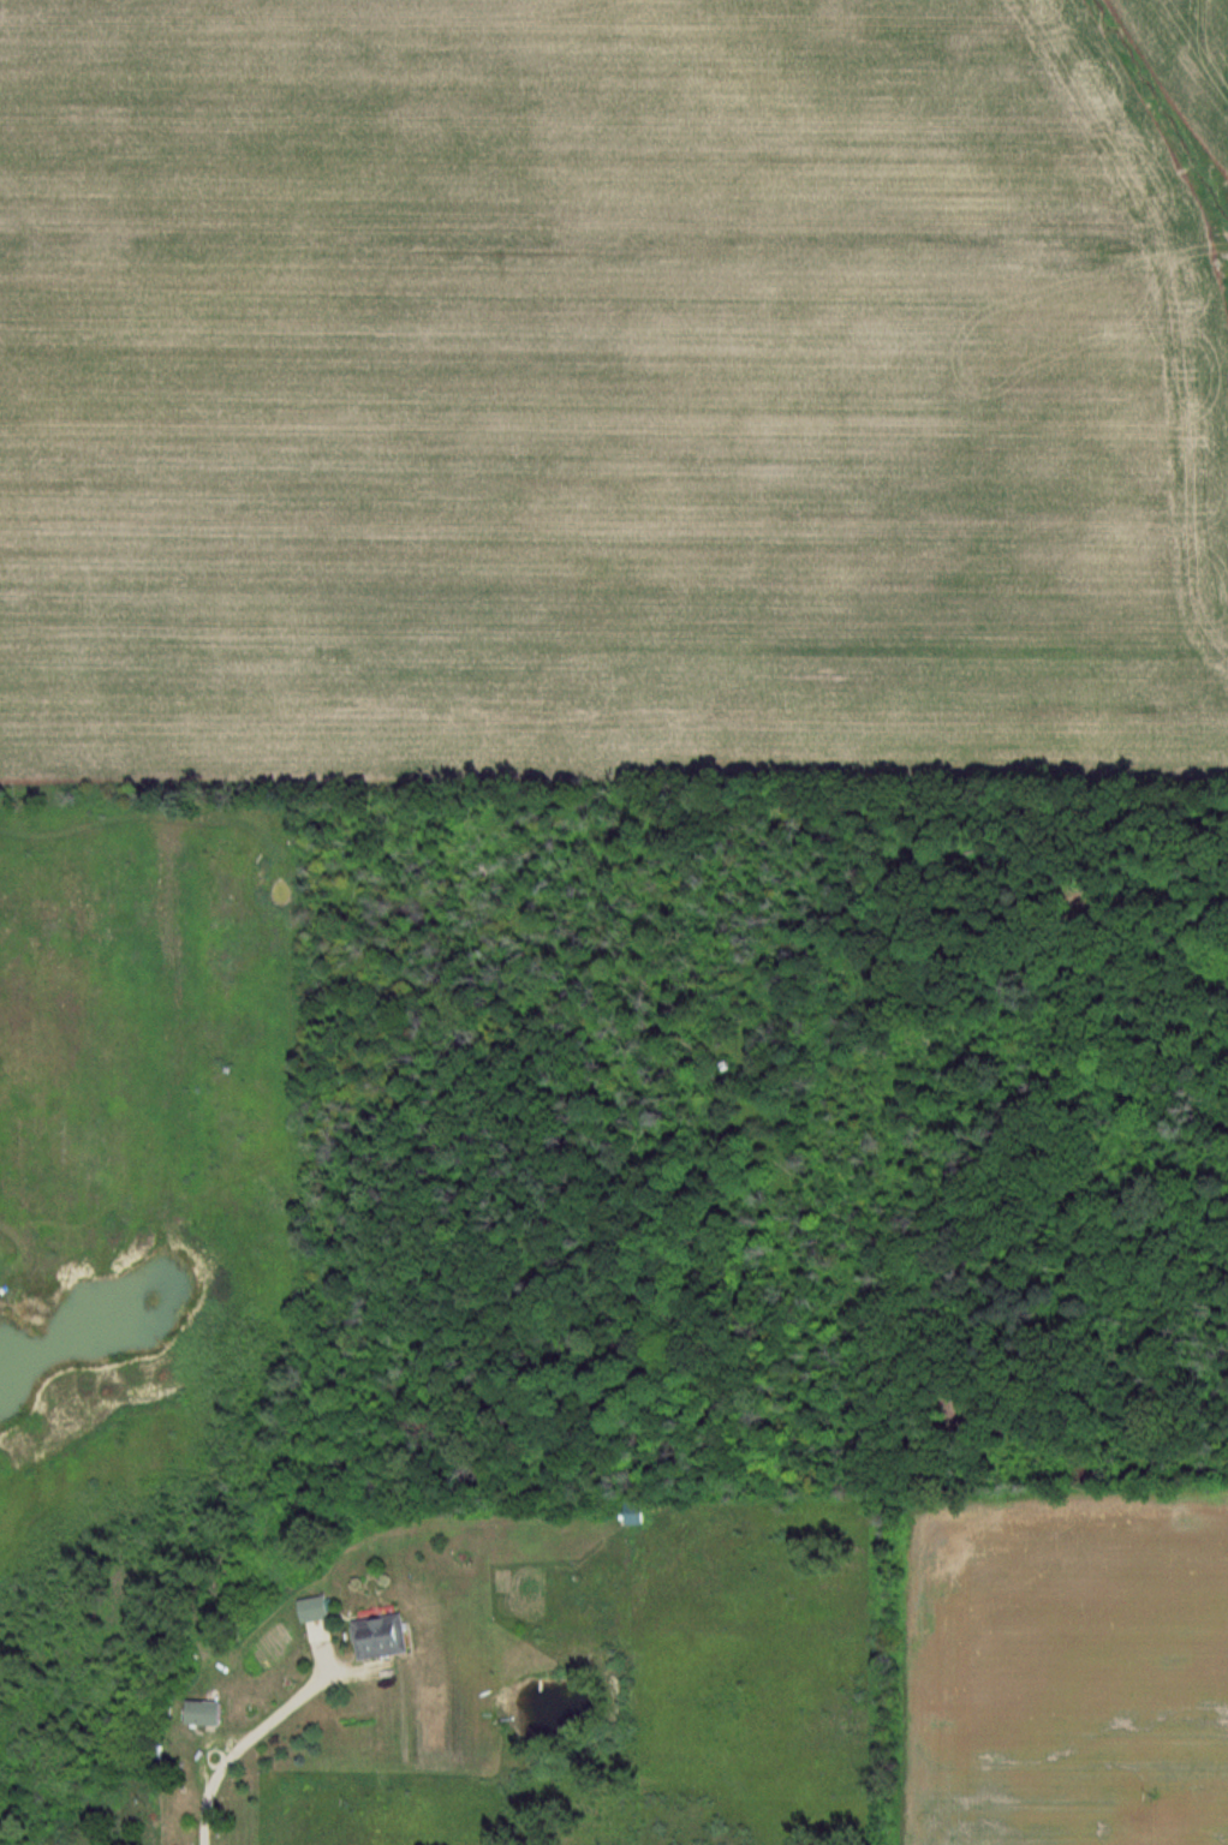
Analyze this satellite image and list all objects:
building: (637, 1512)
building: (315, 1608)
building: (385, 1636)
building: (207, 1713)
road: (238, 1743)

